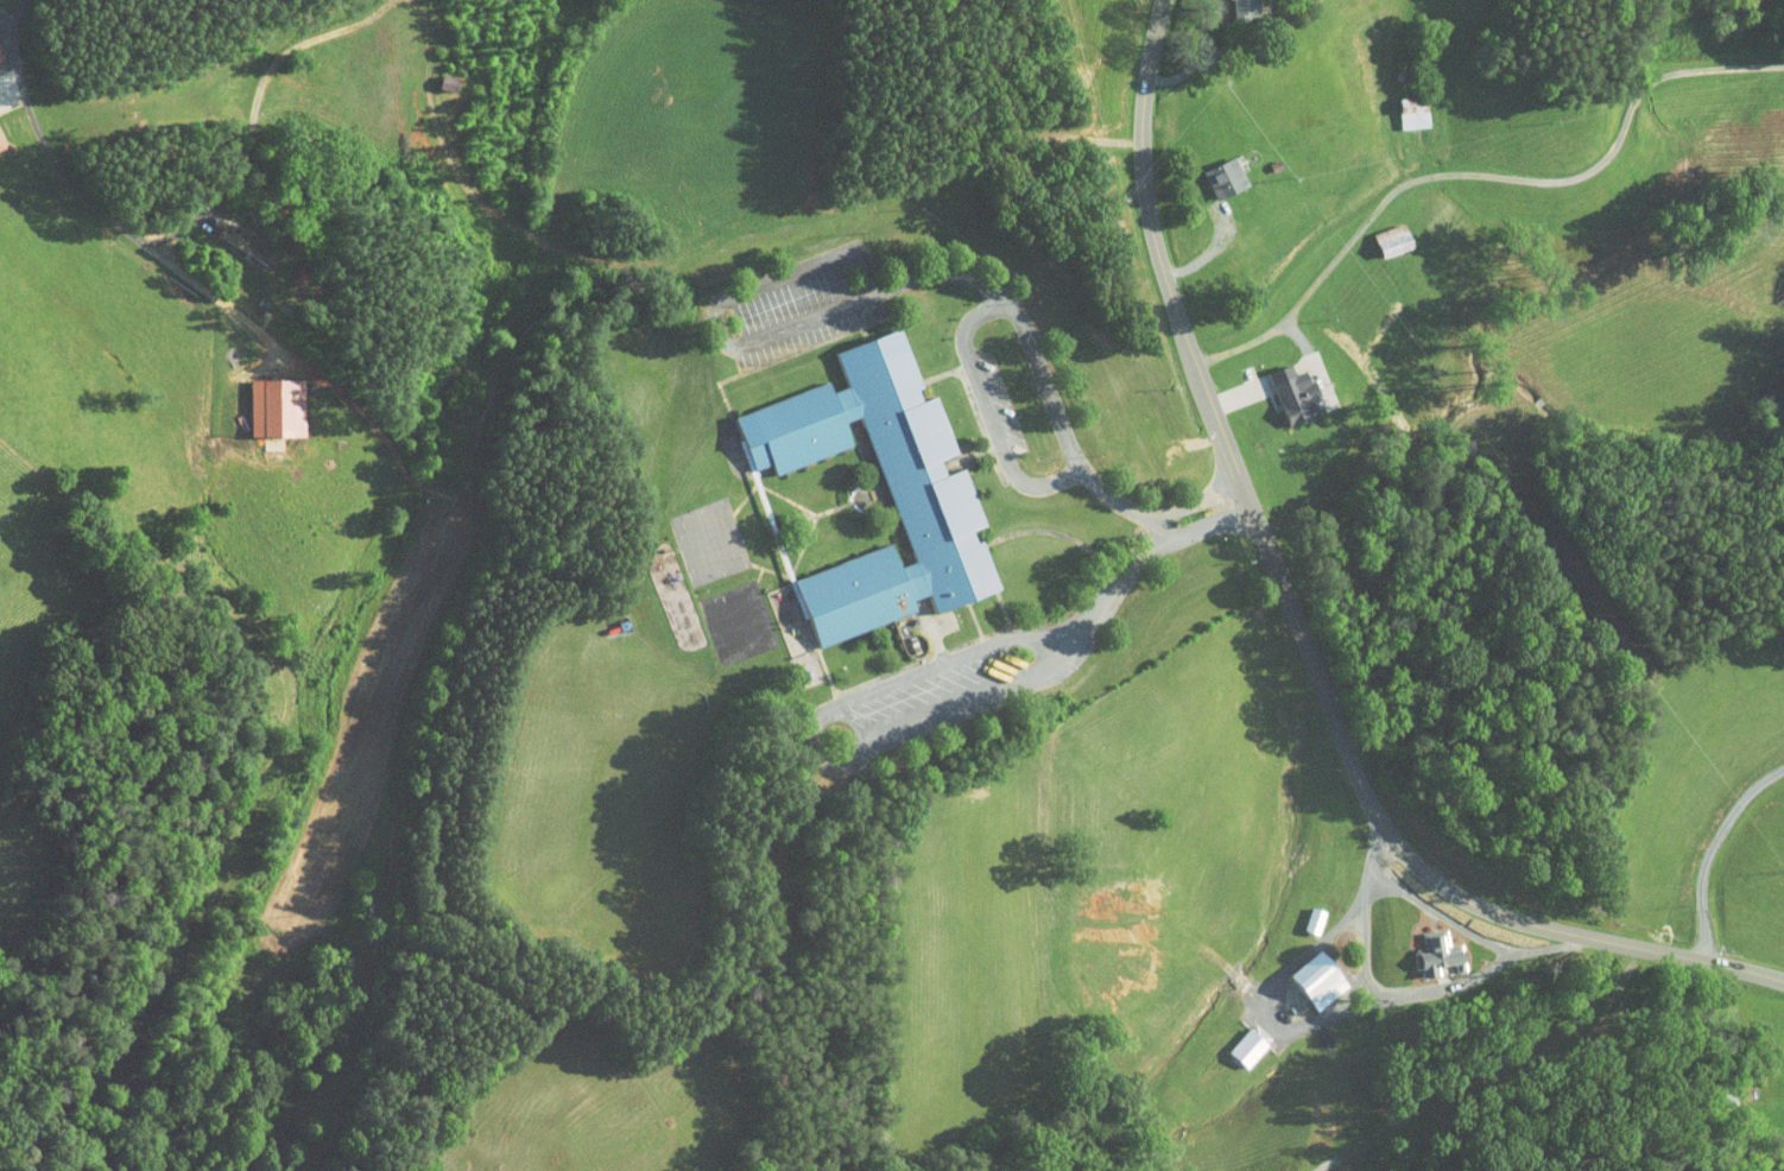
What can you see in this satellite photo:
building: (1232, 2)
road: (6, 14)
road: (1219, 53)
building: (438, 76)
building: (1403, 106)
road: (253, 114)
building: (1214, 171)
road: (1481, 175)
road: (91, 207)
building: (1383, 233)
building: (234, 238)
road: (700, 240)
road: (1030, 338)
building: (1285, 388)
building: (266, 401)
road: (989, 411)
building: (923, 493)
road: (1112, 589)
road: (1299, 627)
road: (809, 748)
road: (1710, 850)
building: (1417, 945)
road: (1400, 999)
building: (1231, 1038)

